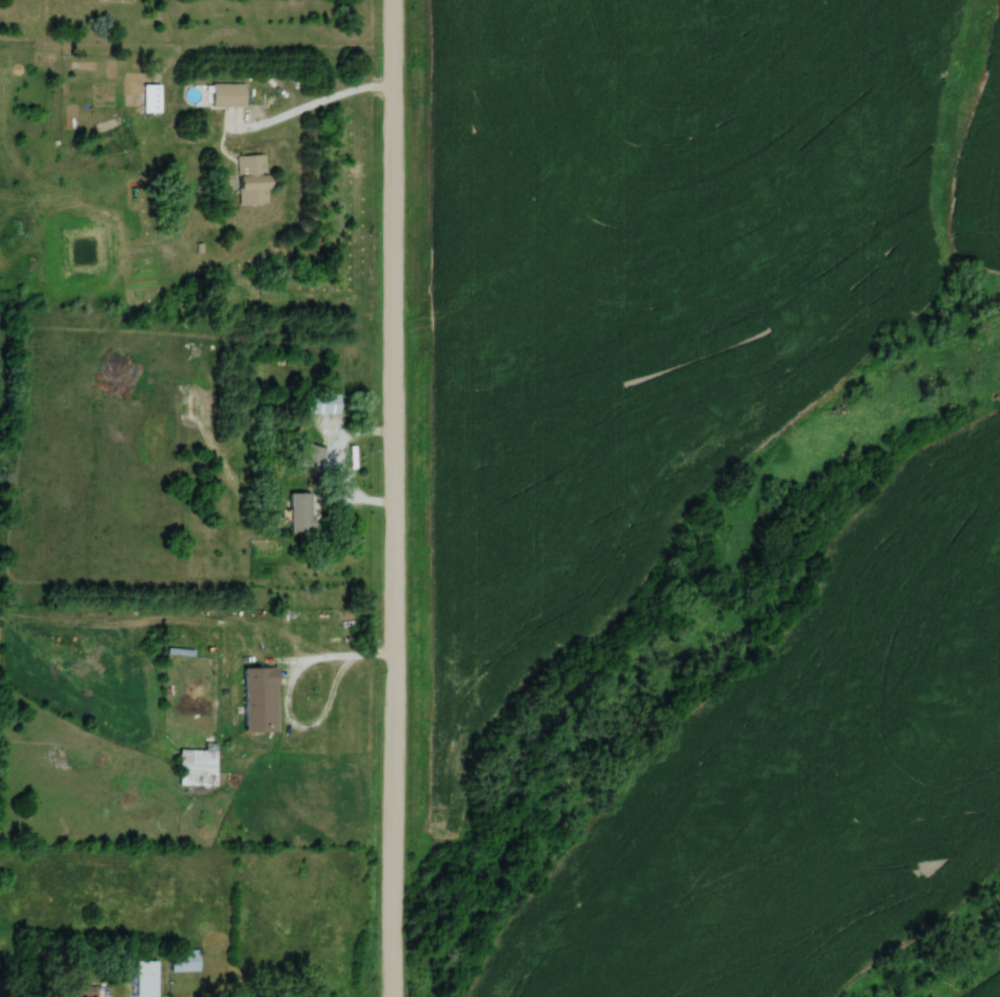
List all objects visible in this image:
road: (310, 92)
building: (222, 94)
building: (145, 97)
building: (247, 178)
building: (321, 401)
road: (340, 461)
road: (393, 498)
building: (293, 511)
road: (207, 669)
road: (287, 698)
building: (251, 700)
building: (191, 766)
building: (178, 959)
building: (141, 977)

